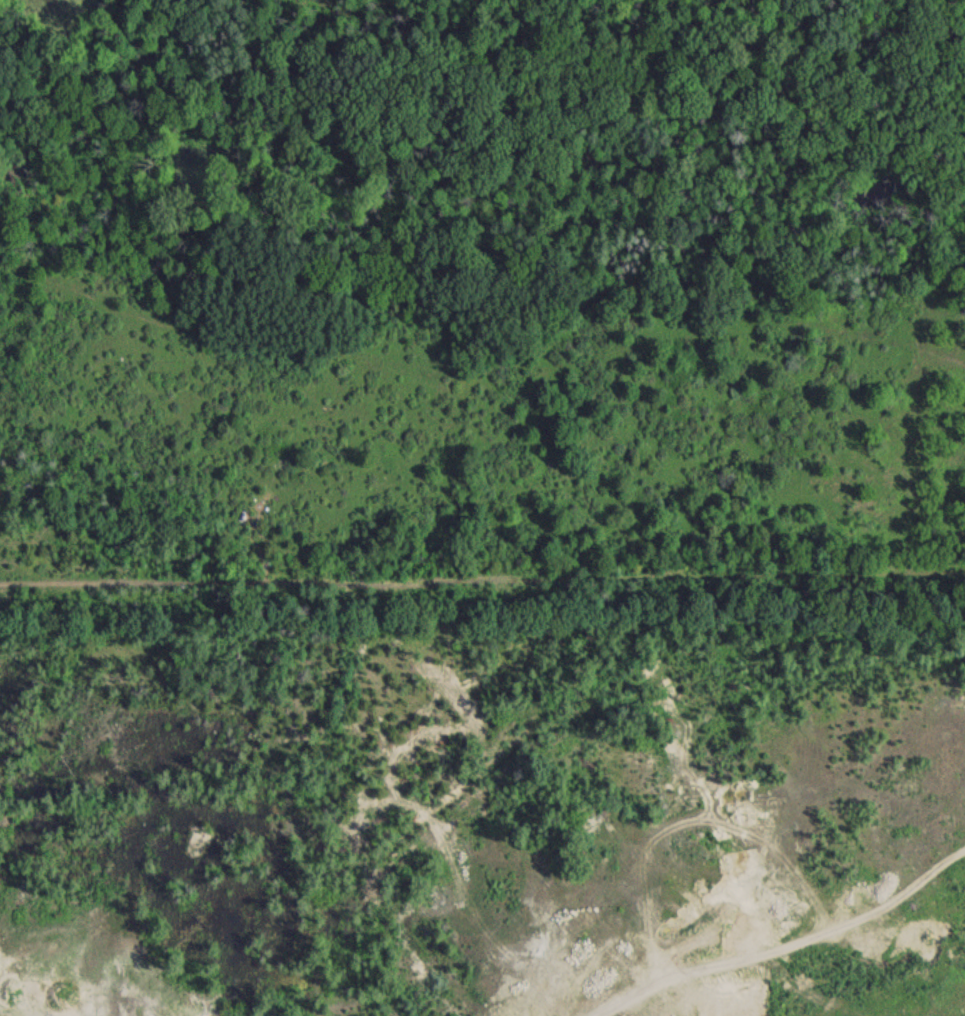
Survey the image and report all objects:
road: (482, 586)

